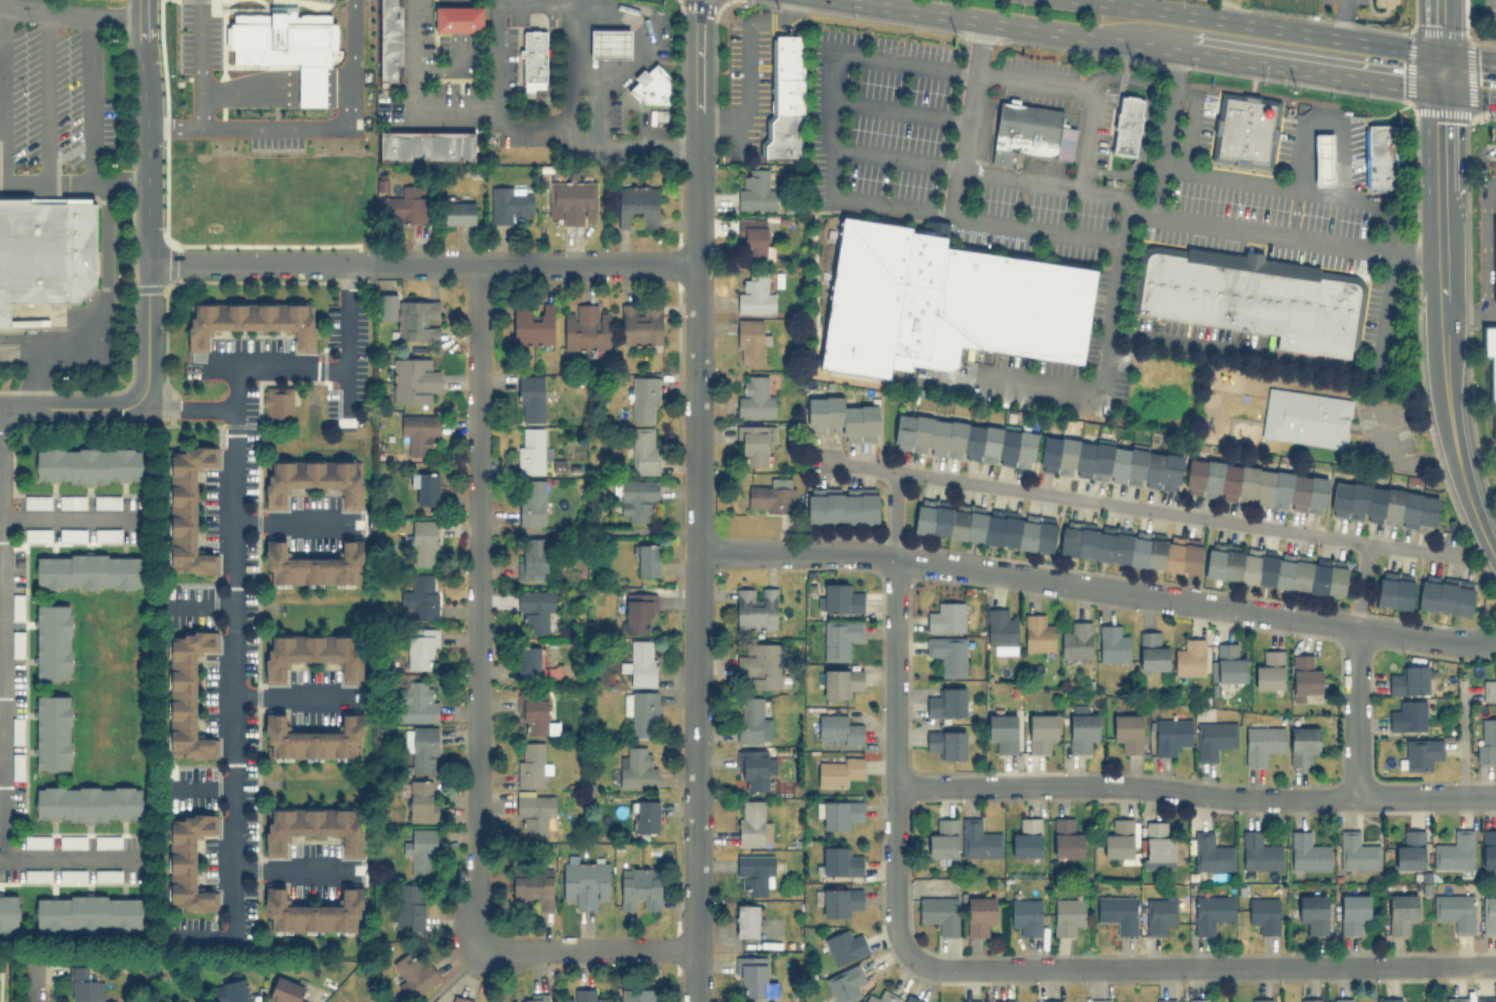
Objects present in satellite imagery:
road: (460, 1)
road: (544, 2)
road: (7, 3)
road: (69, 15)
building: (460, 17)
road: (460, 17)
road: (1339, 18)
road: (1017, 25)
road: (1267, 26)
road: (1437, 26)
road: (643, 37)
building: (391, 39)
road: (606, 41)
building: (612, 42)
road: (619, 42)
road: (200, 49)
building: (282, 51)
building: (535, 53)
traffic signals: (1438, 54)
road: (498, 55)
road: (1467, 56)
gas station: (632, 57)
road: (746, 65)
road: (1308, 69)
road: (456, 70)
road: (1438, 71)
road: (550, 75)
road: (305, 79)
road: (334, 79)
road: (697, 79)
road: (286, 80)
road: (281, 86)
road: (304, 86)
road: (334, 86)
building: (654, 87)
building: (304, 88)
traffic signals: (1439, 89)
road: (278, 93)
road: (305, 93)
road: (334, 93)
road: (1467, 93)
road: (1, 96)
parking lot: (52, 97)
road: (45, 99)
road: (247, 99)
road: (304, 99)
road: (334, 99)
building: (788, 99)
road: (92, 102)
road: (829, 108)
road: (598, 109)
road: (898, 110)
road: (203, 112)
road: (498, 117)
road: (1325, 121)
building: (1129, 122)
road: (1145, 122)
road: (311, 125)
building: (1246, 130)
building: (1030, 131)
road: (145, 132)
road: (1165, 133)
road: (1189, 133)
building: (428, 144)
road: (626, 144)
gas station: (1348, 151)
building: (1382, 157)
building: (1325, 158)
road: (894, 159)
road: (1480, 160)
parking lot: (1495, 172)
road: (1489, 182)
road: (73, 186)
building: (755, 190)
road: (954, 192)
building: (571, 200)
building: (509, 202)
road: (1127, 202)
building: (636, 205)
building: (405, 206)
building: (458, 212)
building: (752, 238)
road: (1484, 247)
building: (46, 251)
building: (1494, 259)
road: (543, 265)
road: (268, 266)
building: (754, 294)
building: (1255, 297)
building: (947, 300)
building: (387, 307)
road: (100, 312)
road: (1469, 312)
building: (49, 318)
building: (251, 320)
building: (417, 320)
building: (640, 322)
building: (533, 324)
road: (1383, 325)
building: (586, 327)
road: (1442, 330)
road: (146, 335)
building: (751, 341)
road: (344, 348)
building: (1490, 363)
road: (268, 370)
building: (413, 380)
road: (1099, 386)
building: (754, 396)
building: (530, 398)
building: (644, 398)
building: (277, 403)
road: (69, 411)
road: (185, 411)
building: (1307, 417)
building: (841, 418)
building: (419, 434)
building: (965, 440)
building: (754, 442)
building: (531, 450)
building: (644, 450)
road: (1394, 458)
building: (1110, 462)
building: (88, 464)
building: (313, 479)
building: (1255, 485)
building: (425, 488)
building: (772, 495)
building: (637, 498)
building: (36, 501)
building: (71, 501)
building: (106, 501)
building: (532, 502)
building: (842, 504)
building: (1383, 504)
road: (1133, 507)
building: (187, 511)
road: (893, 514)
road: (72, 521)
road: (295, 525)
building: (984, 525)
building: (37, 534)
building: (72, 534)
building: (106, 534)
building: (423, 542)
building: (1130, 546)
road: (750, 550)
road: (1494, 555)
building: (533, 557)
building: (647, 559)
building: (313, 564)
building: (1274, 568)
building: (88, 571)
road: (695, 580)
road: (1359, 585)
building: (1394, 589)
building: (1445, 594)
road: (1151, 595)
building: (420, 596)
building: (840, 598)
road: (473, 604)
building: (16, 606)
road: (196, 606)
building: (755, 608)
building: (534, 609)
building: (639, 613)
building: (946, 617)
building: (1001, 630)
building: (1038, 632)
building: (839, 638)
building: (1076, 640)
building: (17, 642)
building: (53, 642)
building: (1112, 642)
building: (421, 648)
building: (1151, 651)
building: (312, 653)
building: (948, 654)
building: (1190, 657)
building: (528, 661)
building: (642, 662)
building: (1228, 662)
building: (761, 664)
building: (1269, 671)
building: (1304, 675)
building: (1408, 680)
building: (840, 682)
building: (1489, 687)
road: (232, 688)
building: (186, 692)
road: (294, 698)
building: (417, 700)
building: (946, 702)
building: (641, 711)
road: (1354, 713)
building: (534, 715)
building: (1408, 715)
building: (750, 719)
building: (1081, 728)
building: (16, 729)
building: (838, 729)
building: (1002, 731)
building: (1041, 731)
building: (1128, 731)
building: (53, 732)
building: (1171, 733)
building: (1214, 738)
building: (313, 739)
building: (1487, 740)
building: (1262, 742)
building: (946, 743)
road: (1462, 743)
building: (1302, 744)
building: (421, 747)
building: (1420, 753)
road: (893, 756)
building: (531, 764)
building: (16, 765)
building: (636, 767)
building: (752, 767)
building: (837, 770)
road: (197, 788)
road: (1194, 793)
building: (420, 800)
building: (88, 802)
building: (535, 812)
building: (839, 814)
building: (647, 815)
road: (0, 816)
building: (752, 823)
building: (313, 826)
building: (1066, 837)
building: (942, 838)
building: (1026, 838)
building: (979, 839)
building: (1119, 839)
building: (37, 841)
building: (72, 841)
building: (107, 841)
building: (1158, 845)
building: (1488, 848)
building: (421, 850)
building: (1410, 850)
building: (1454, 850)
building: (1259, 851)
building: (1307, 851)
building: (1356, 851)
building: (1210, 852)
building: (840, 860)
road: (69, 862)
building: (186, 862)
road: (296, 872)
building: (757, 872)
building: (36, 874)
building: (72, 874)
building: (107, 874)
building: (585, 882)
building: (943, 887)
building: (533, 888)
building: (640, 888)
building: (837, 900)
building: (410, 907)
building: (1454, 910)
building: (9, 911)
building: (1211, 911)
building: (1354, 911)
building: (313, 912)
building: (939, 912)
building: (1313, 912)
building: (1401, 912)
building: (88, 913)
building: (1117, 913)
building: (1160, 913)
building: (1263, 913)
building: (978, 914)
building: (1488, 914)
building: (1026, 915)
building: (1067, 915)
building: (747, 920)
building: (844, 946)
road: (587, 949)
road: (1202, 965)
building: (414, 973)
road: (455, 973)
building: (751, 976)
building: (845, 983)
building: (84, 985)
building: (285, 990)
building: (231, 991)
building: (635, 994)
road: (30, 995)
building: (583, 995)
building: (535, 997)
building: (882, 997)
building: (911, 998)
building: (1455, 998)
building: (1486, 998)
building: (461, 999)
building: (1389, 999)
building: (1003, 1000)
building: (1050, 1000)
building: (1100, 1000)
building: (1164, 1000)
building: (1198, 1000)
building: (1261, 1000)
building: (1313, 1000)
building: (1343, 1000)
building: (970, 1001)

